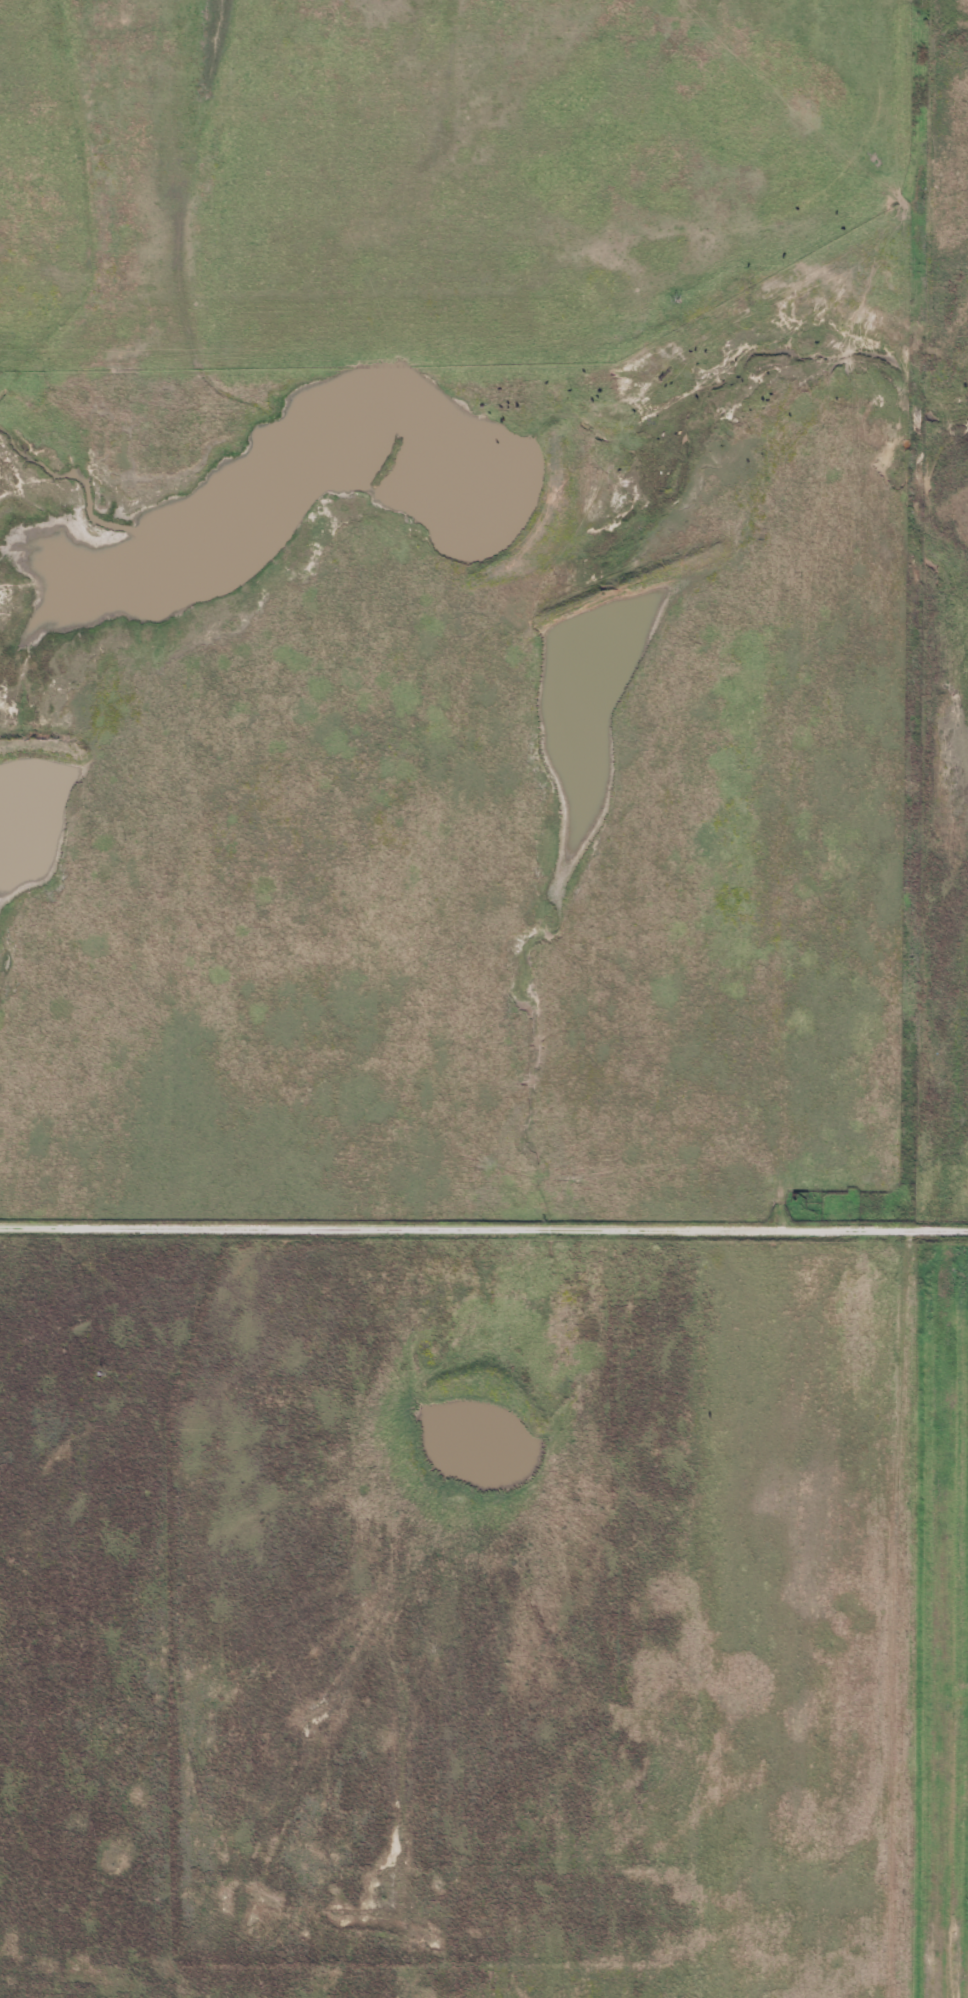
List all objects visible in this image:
road: (483, 1228)

